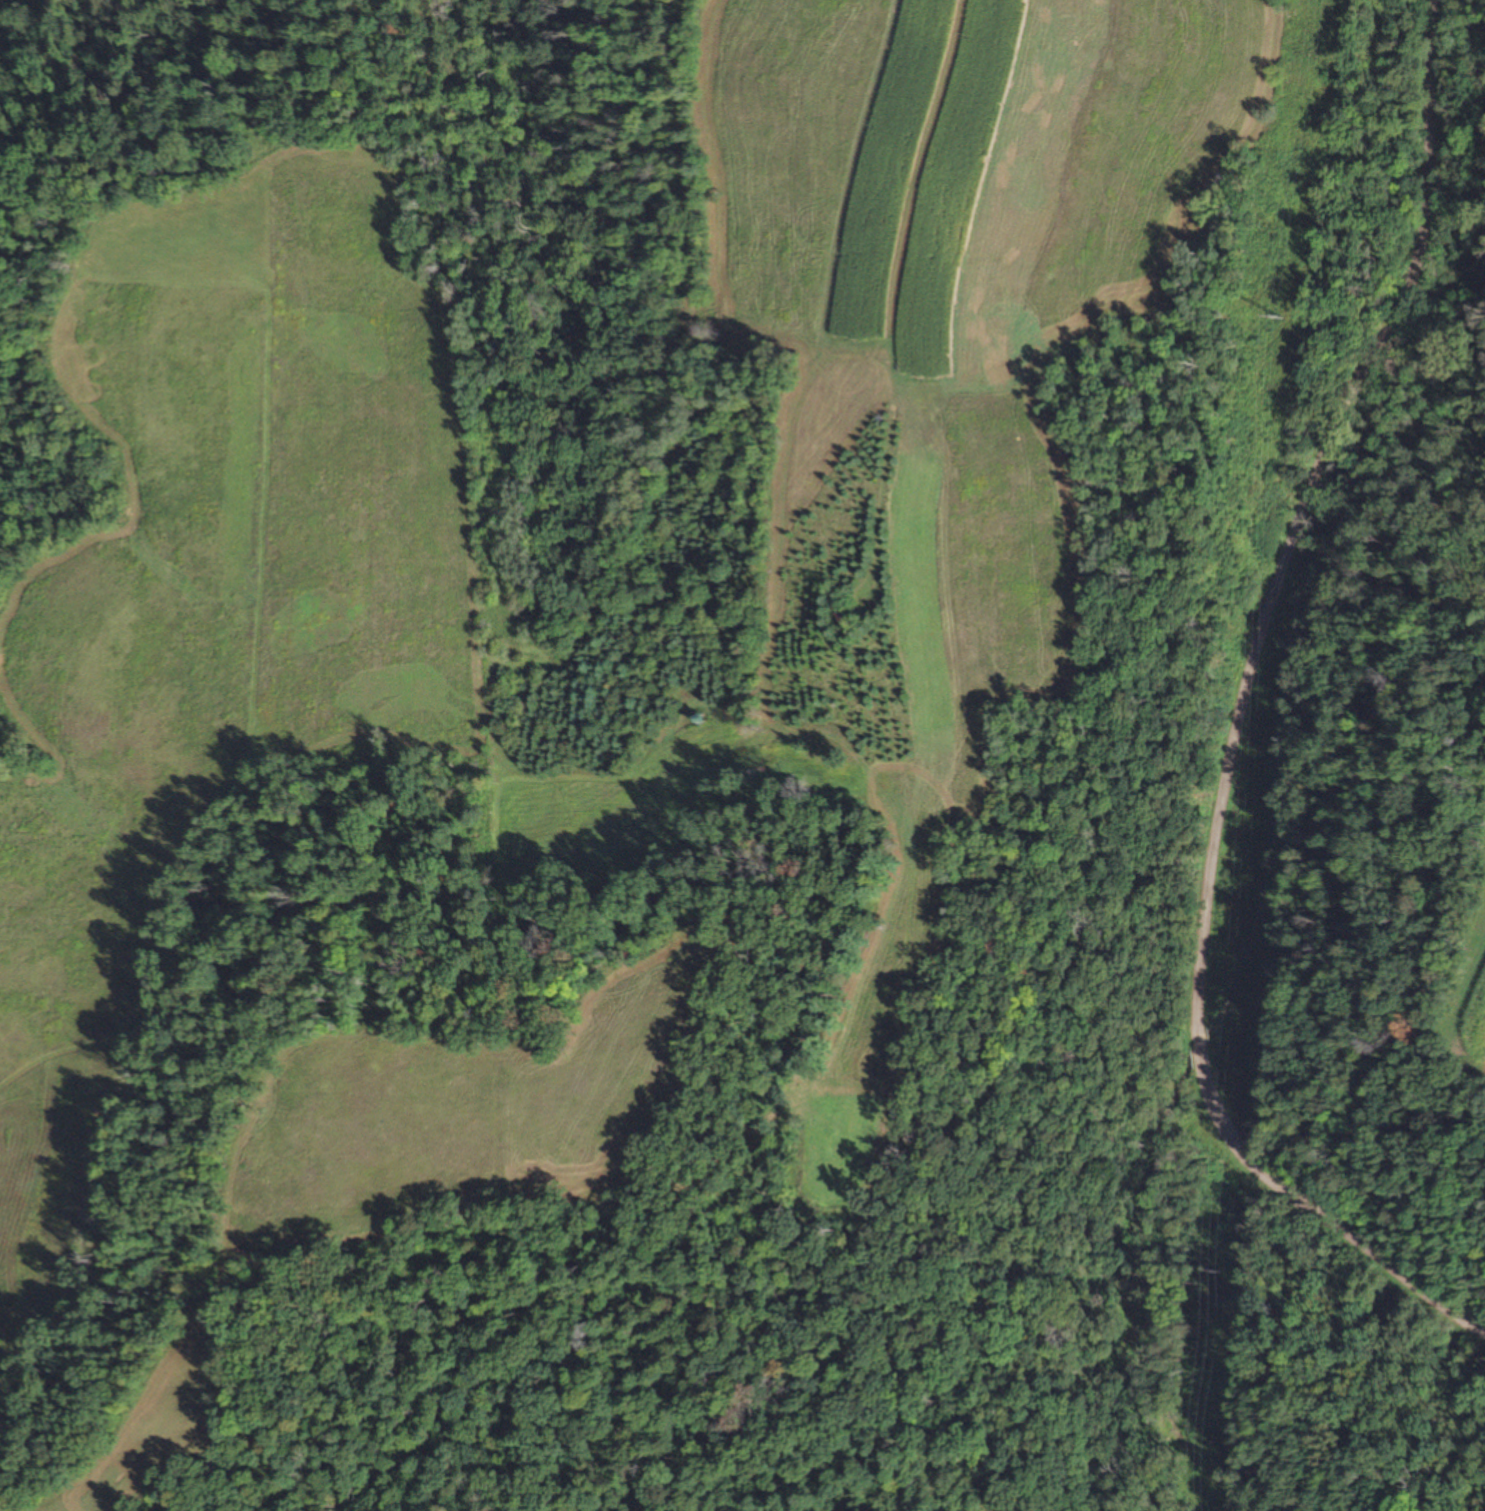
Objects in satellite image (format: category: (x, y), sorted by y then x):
road: (17, 5)
road: (1245, 720)

